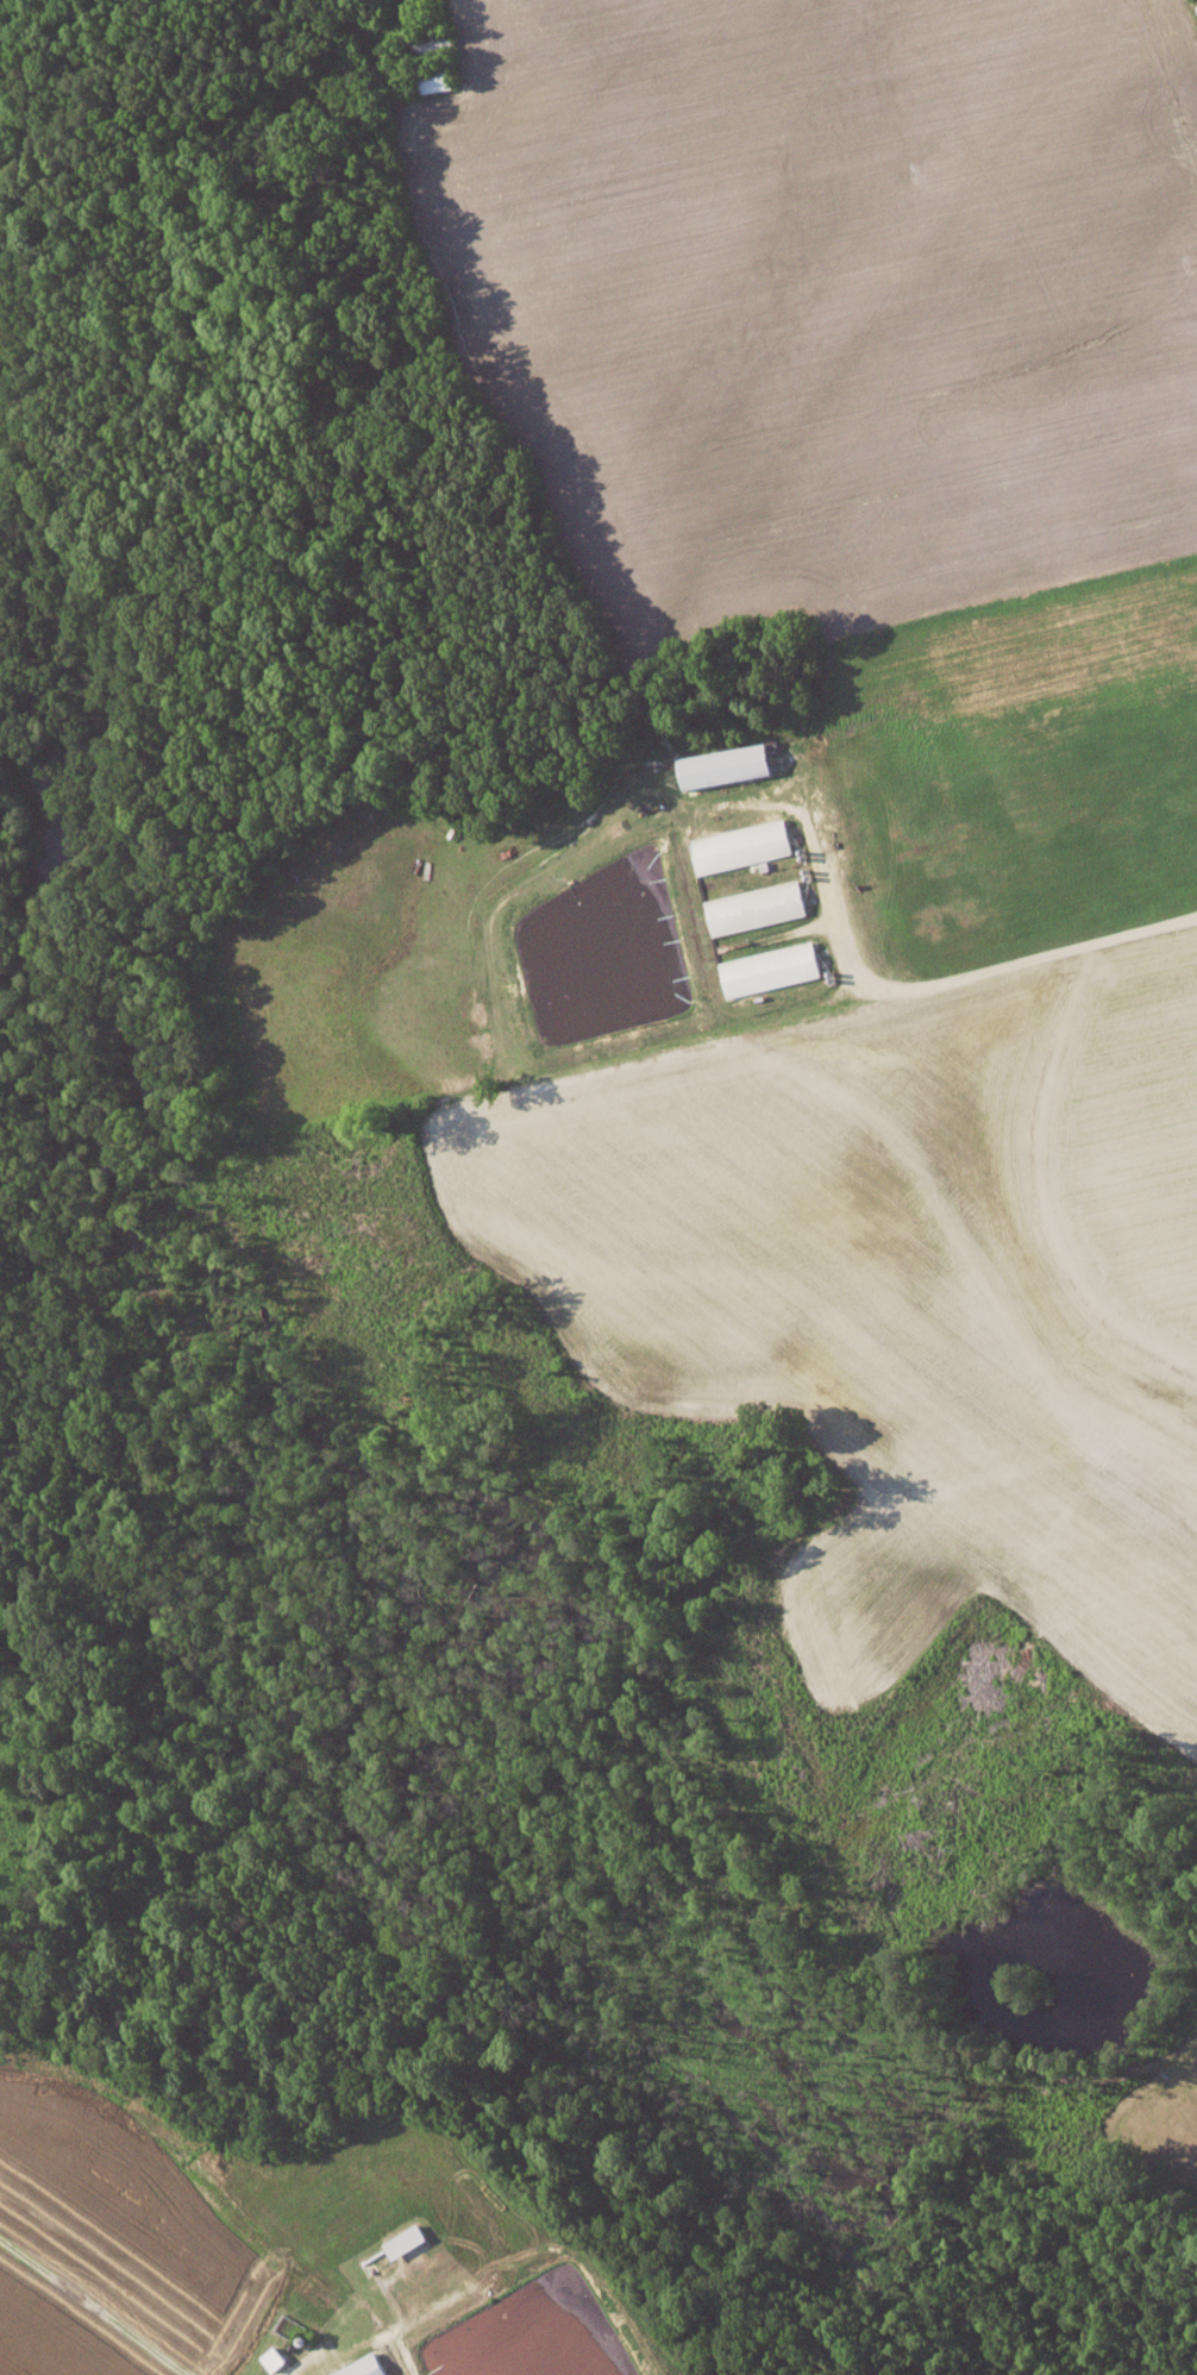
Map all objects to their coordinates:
building: (727, 766)
building: (741, 846)
building: (757, 907)
building: (770, 969)
road: (934, 979)
building: (406, 2241)
building: (274, 2358)
building: (365, 2367)

